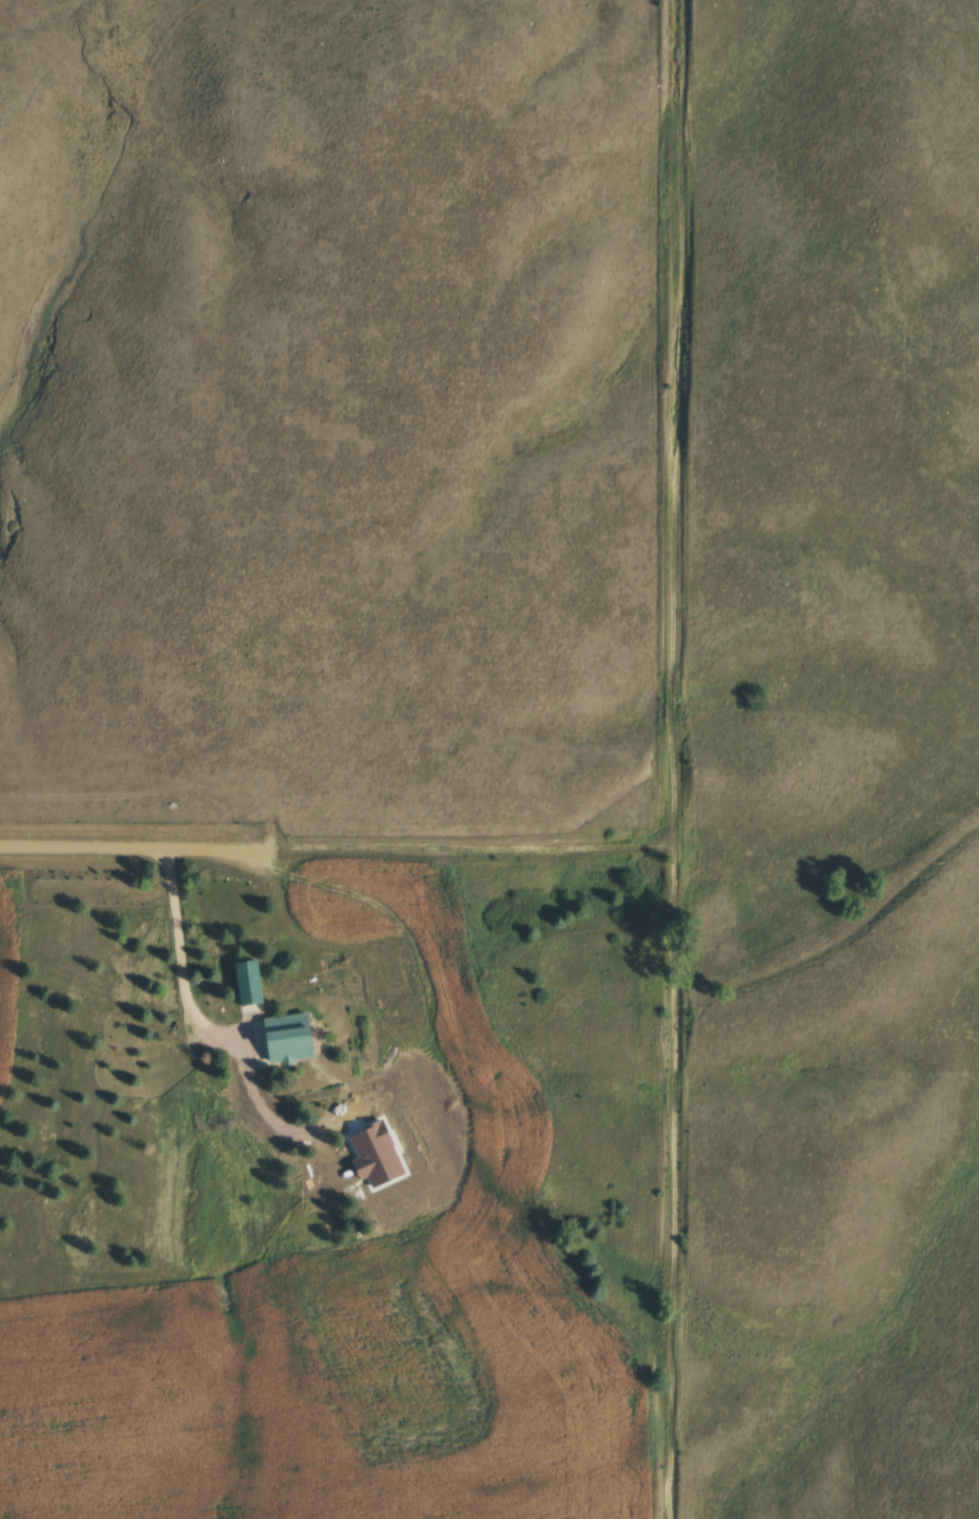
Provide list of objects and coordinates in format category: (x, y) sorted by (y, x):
road: (675, 759)
road: (136, 846)
road: (473, 849)
road: (178, 952)
building: (297, 1037)

